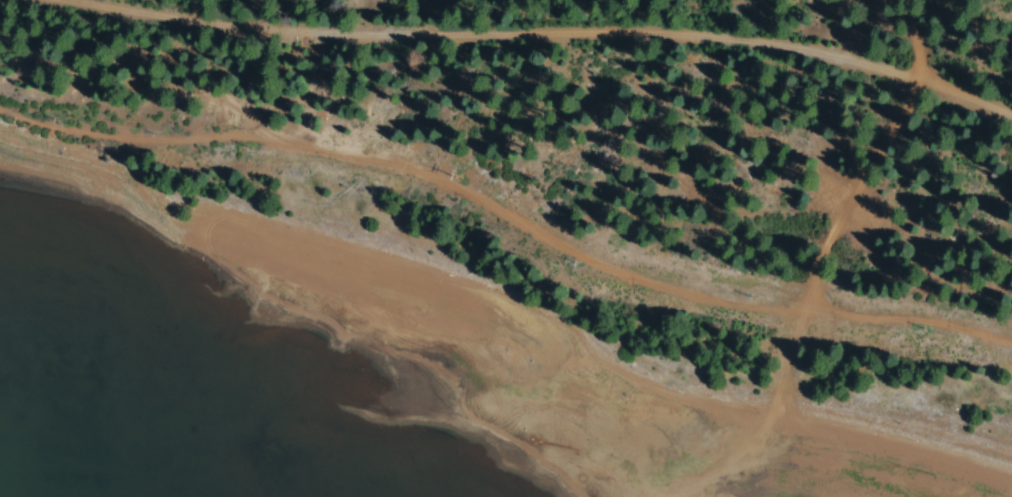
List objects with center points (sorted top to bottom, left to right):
railway: (555, 31)
road: (847, 243)

